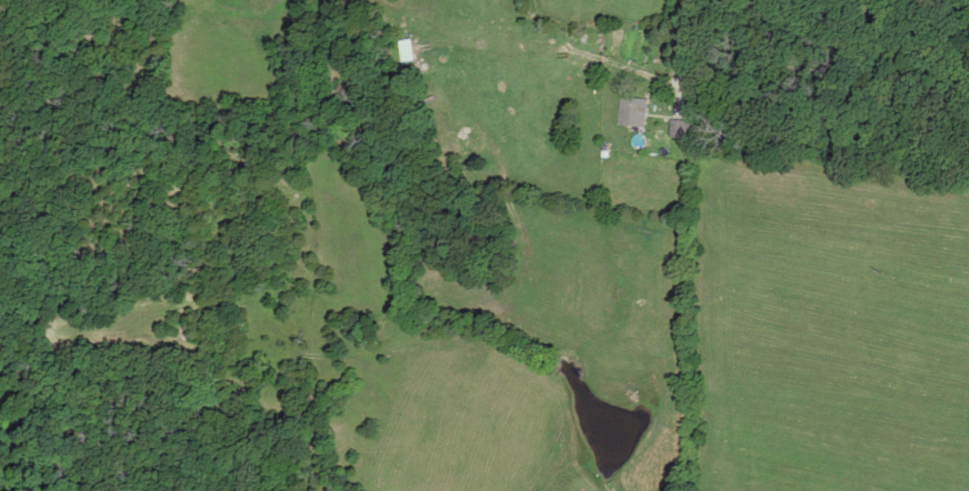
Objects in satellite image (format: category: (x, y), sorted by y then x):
road: (682, 6)
building: (634, 113)
building: (679, 130)
building: (474, 140)

